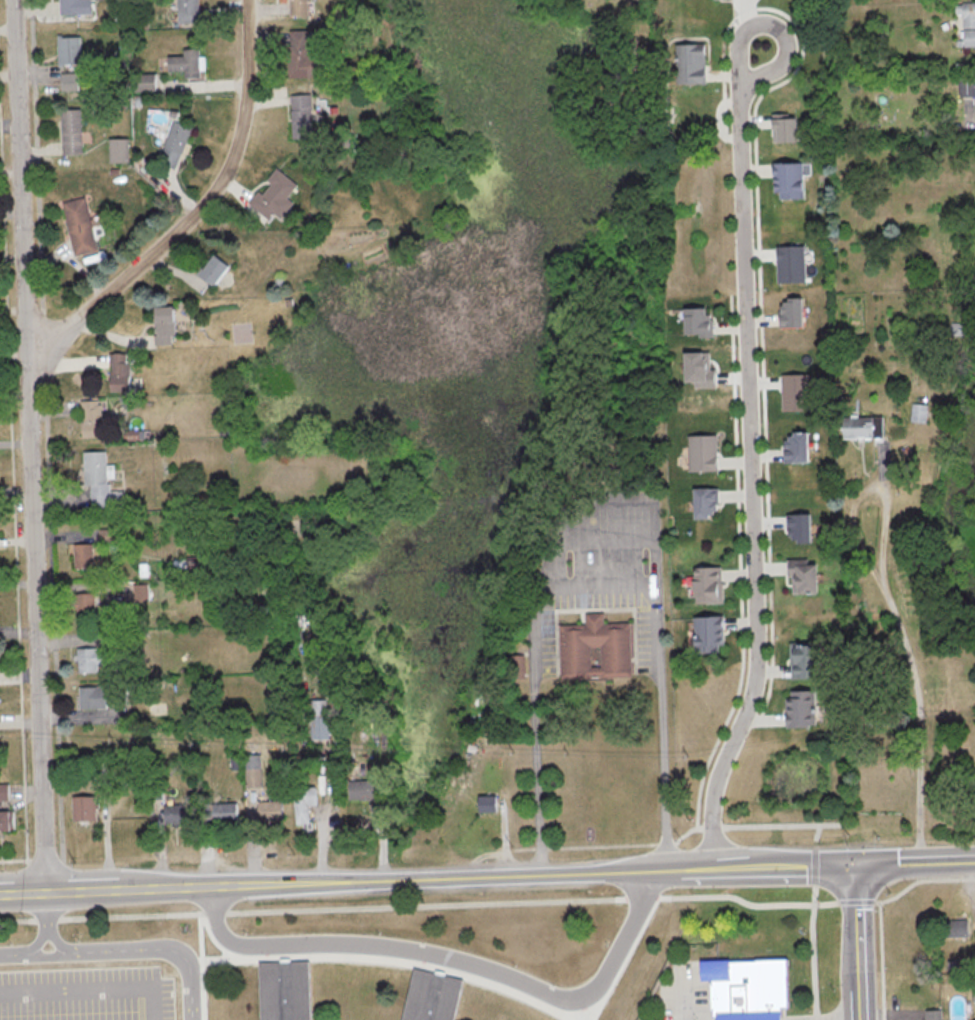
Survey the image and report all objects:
building: (75, 6)
building: (188, 11)
building: (968, 22)
road: (781, 25)
building: (69, 49)
building: (306, 54)
building: (189, 64)
building: (693, 64)
building: (69, 80)
building: (967, 87)
building: (307, 113)
building: (71, 131)
building: (176, 143)
building: (120, 149)
building: (792, 180)
building: (279, 195)
road: (198, 210)
building: (80, 226)
building: (214, 269)
building: (919, 412)
building: (866, 425)
road: (35, 446)
building: (799, 446)
building: (705, 452)
building: (102, 477)
road: (757, 482)
building: (708, 501)
building: (807, 576)
road: (593, 584)
building: (709, 584)
building: (711, 633)
building: (597, 648)
building: (808, 659)
building: (95, 662)
road: (913, 674)
building: (100, 698)
building: (803, 707)
building: (490, 803)
building: (7, 820)
road: (643, 842)
road: (913, 860)
traffic signals: (853, 864)
road: (426, 880)
road: (810, 904)
road: (321, 909)
road: (53, 921)
road: (811, 921)
building: (957, 928)
road: (879, 930)
road: (855, 942)
road: (154, 947)
road: (26, 951)
road: (456, 957)
parking lot: (102, 981)
building: (752, 990)
building: (286, 991)
road: (73, 992)
road: (683, 995)
building: (432, 997)
road: (146, 1005)
building: (935, 1014)

